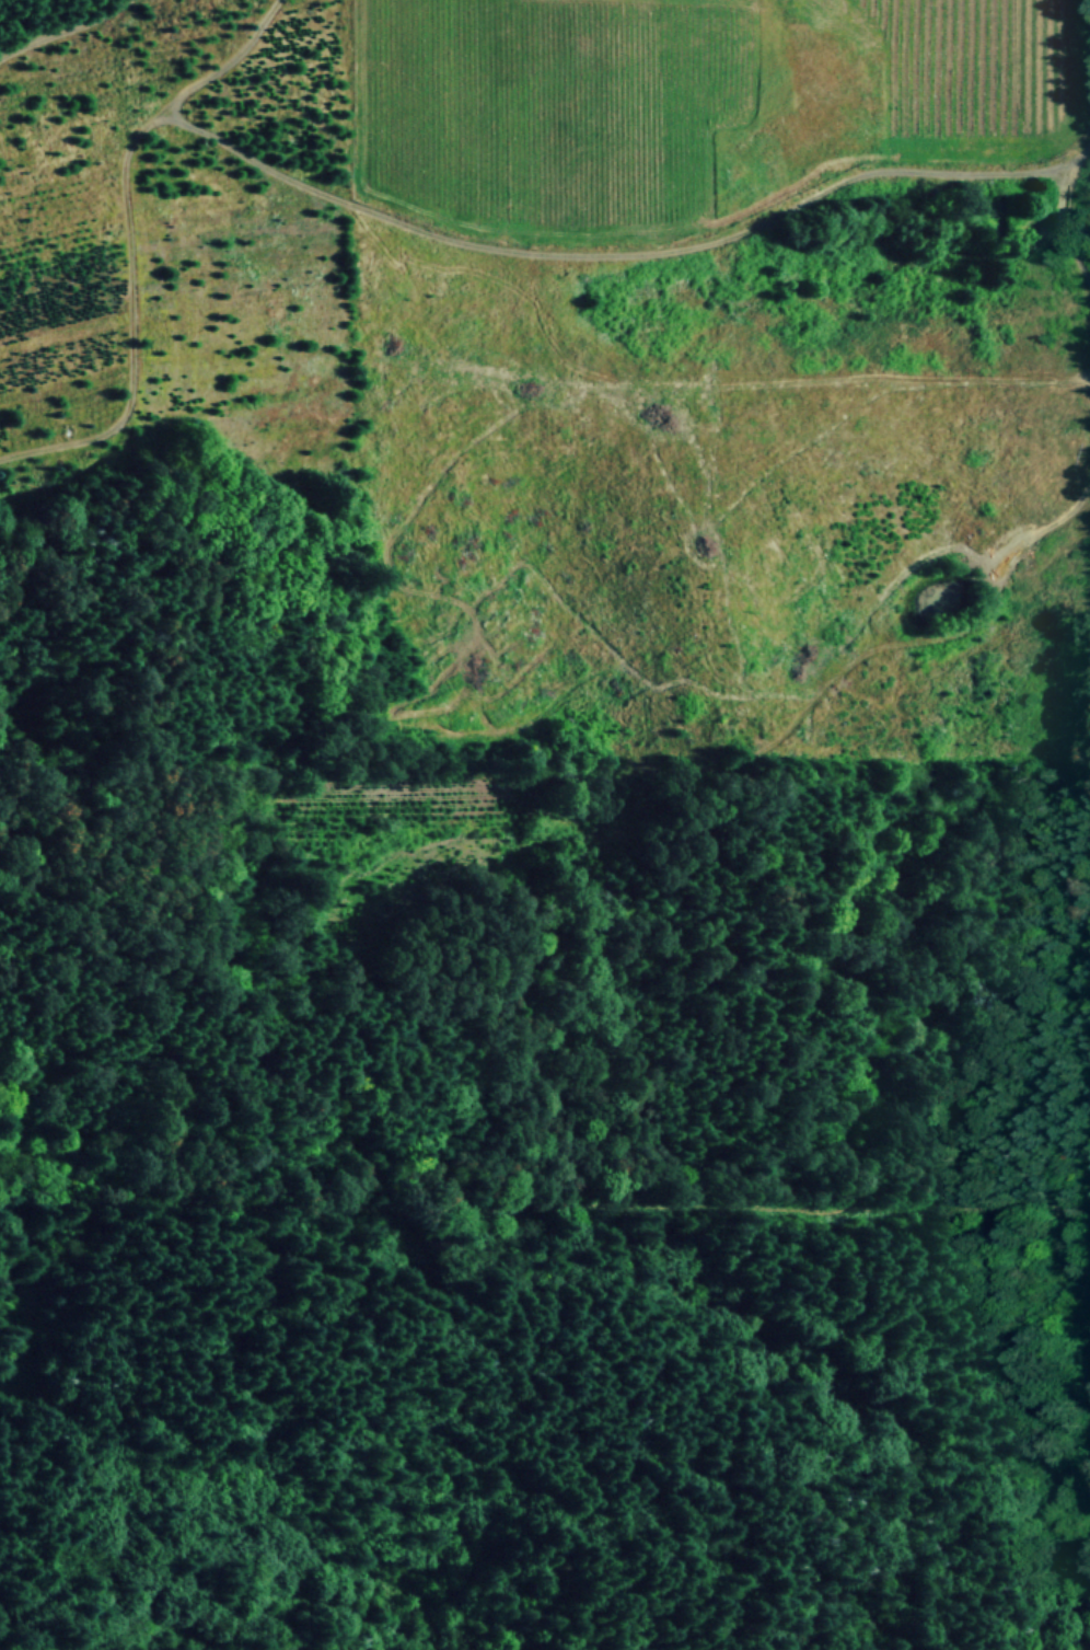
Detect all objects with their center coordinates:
road: (66, 33)

